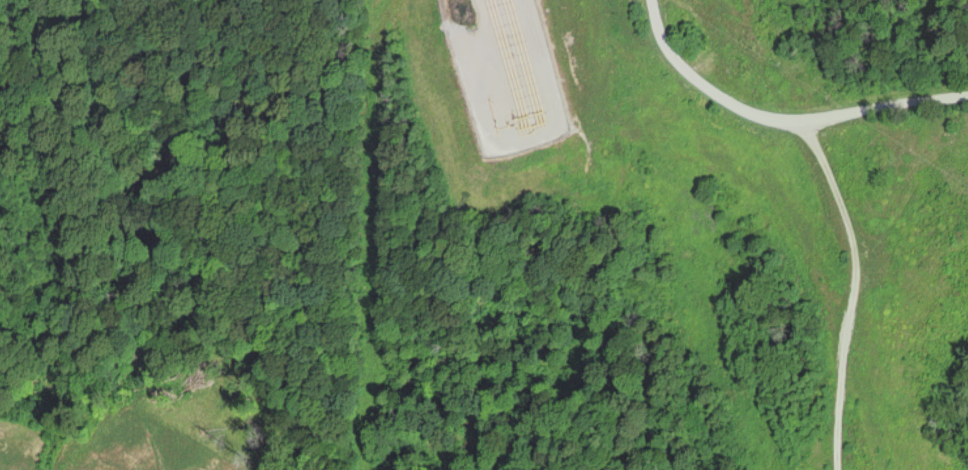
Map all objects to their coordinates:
road: (779, 122)
road: (849, 291)

